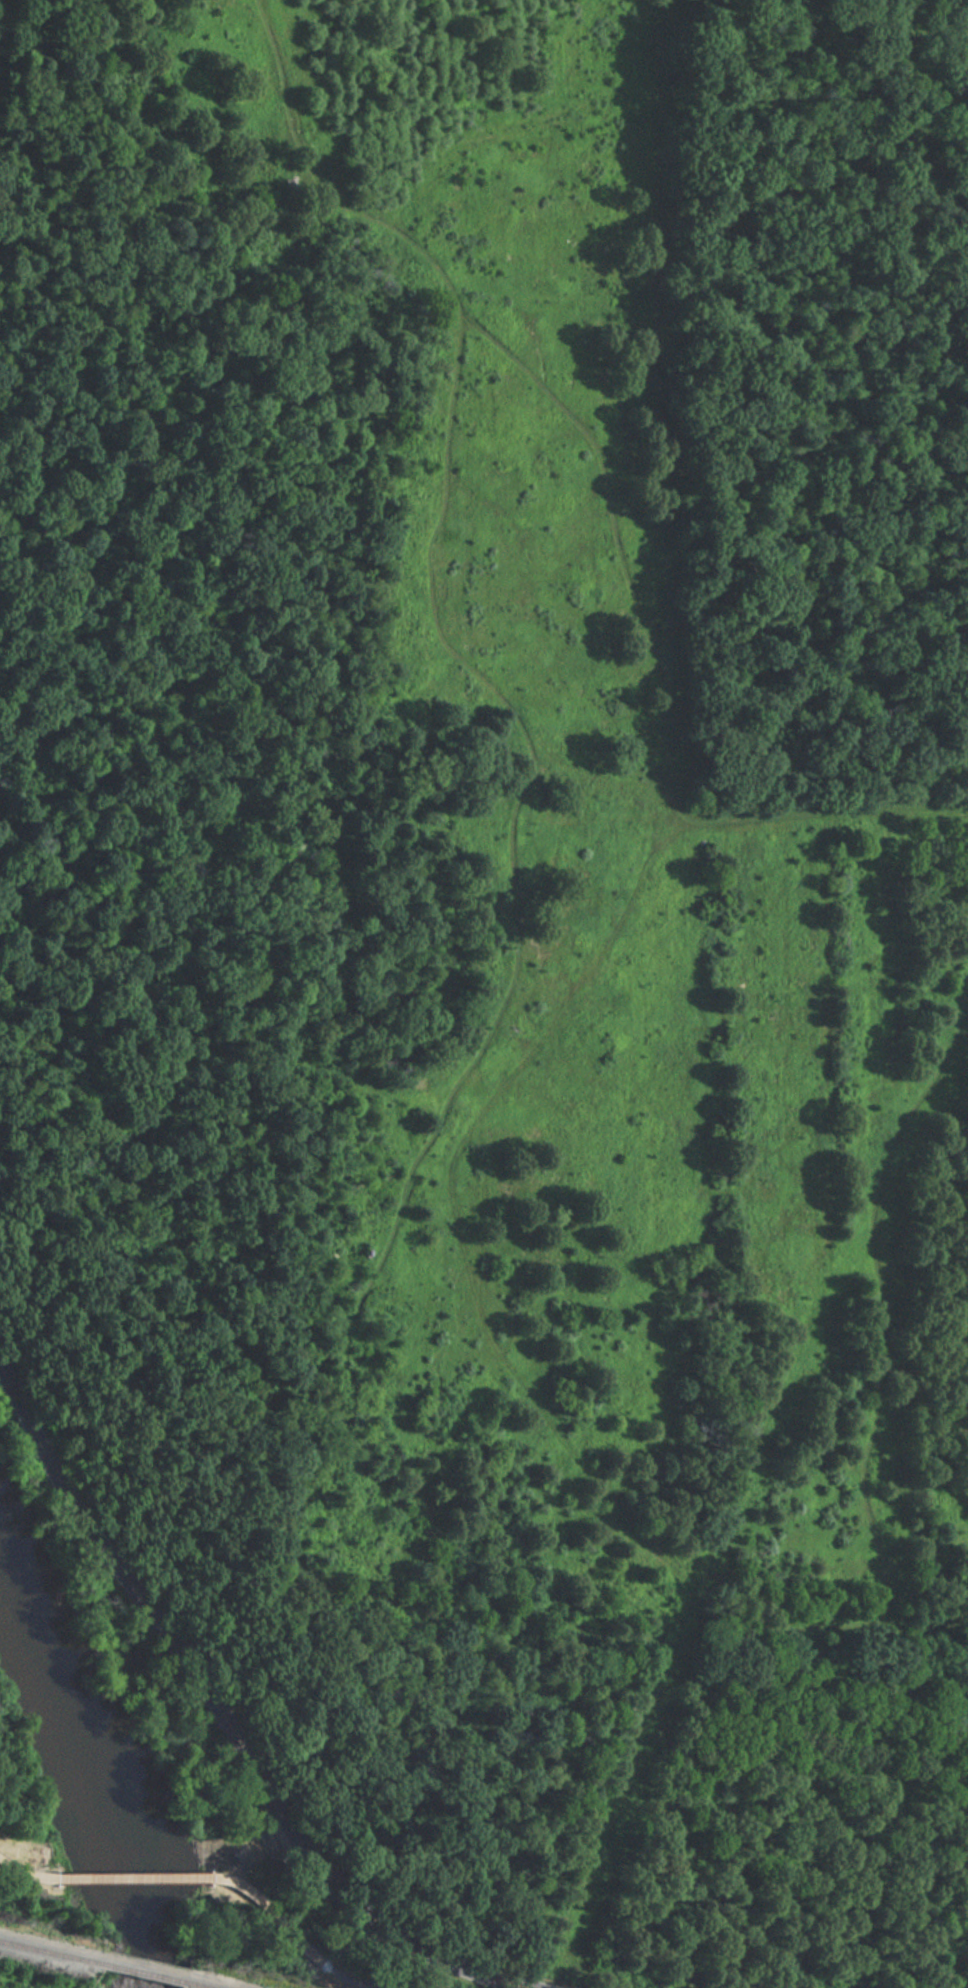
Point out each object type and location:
road: (820, 811)
road: (228, 1719)
park: (110, 1745)
river: (85, 1772)
road: (28, 1872)
road: (137, 1878)
road: (293, 1934)
railway: (46, 1954)
railway: (135, 1974)
railway: (187, 1986)

